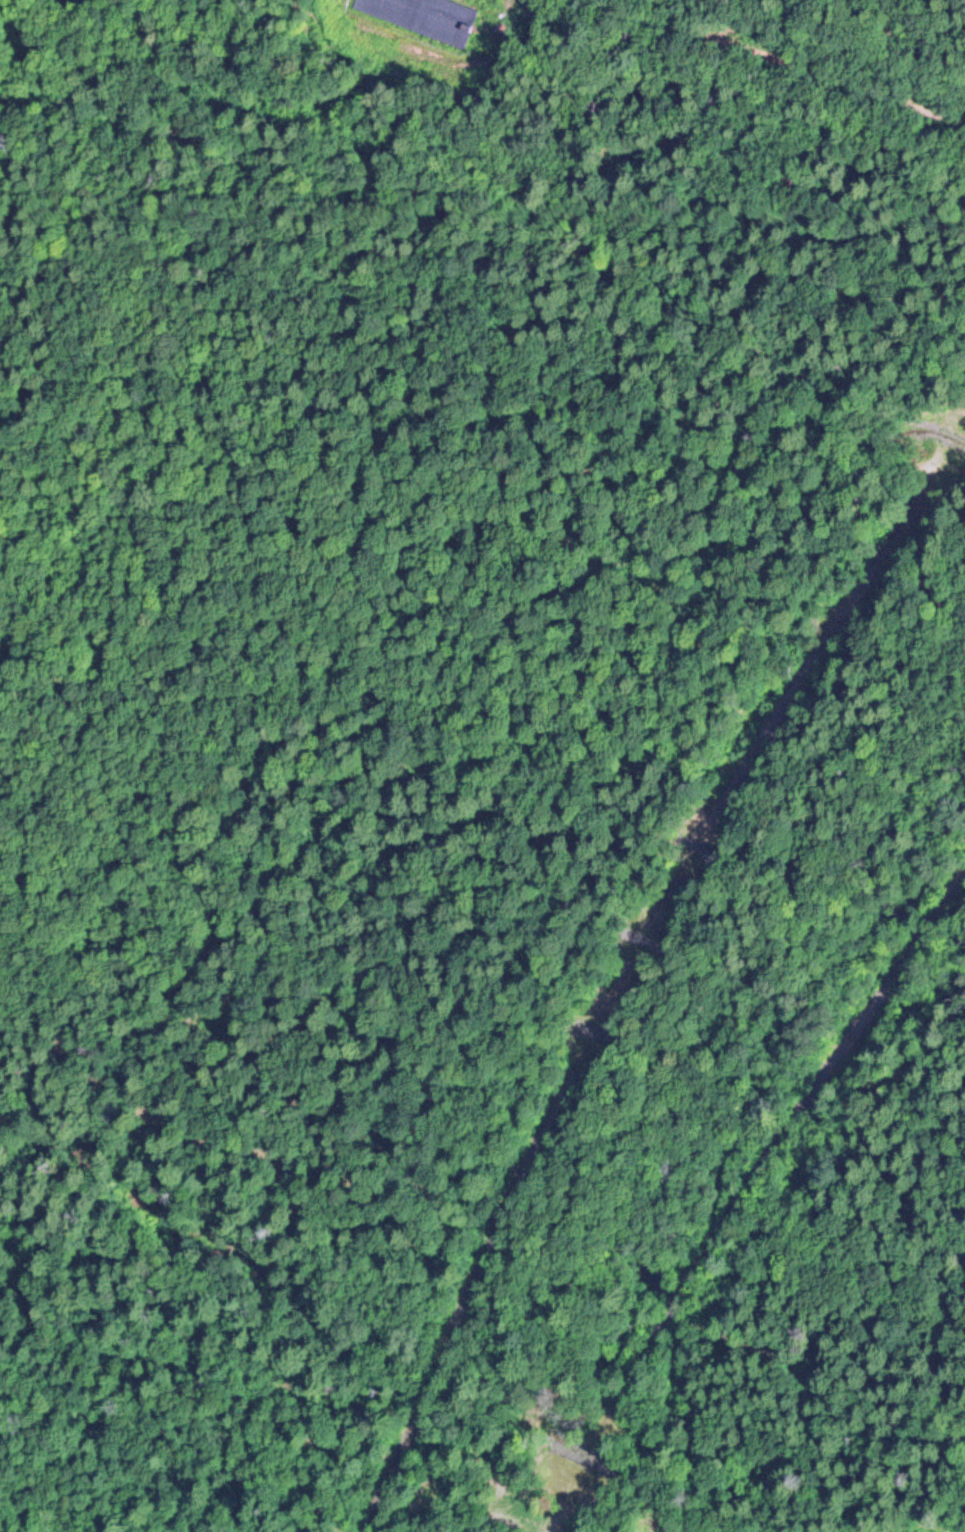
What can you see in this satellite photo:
building: (436, 18)
road: (790, 58)
road: (747, 1191)

